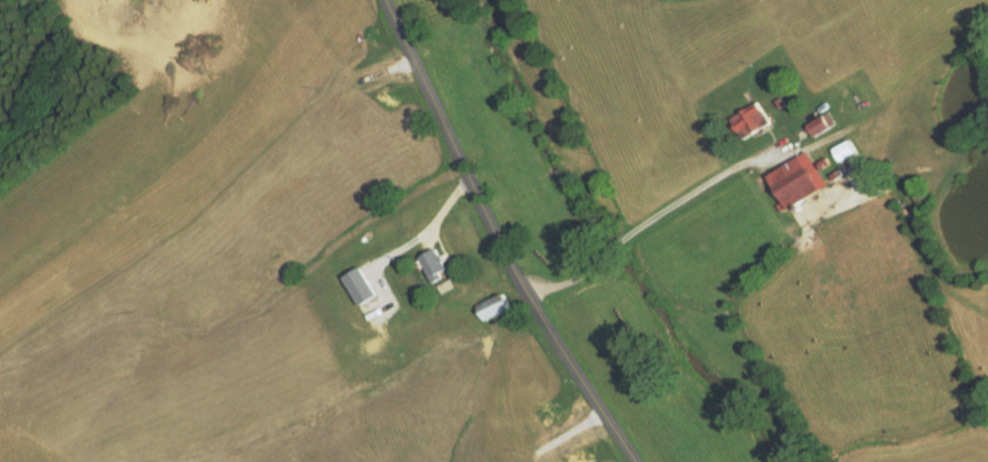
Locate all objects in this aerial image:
building: (777, 102)
building: (747, 119)
building: (818, 123)
building: (842, 149)
building: (821, 162)
building: (833, 173)
building: (931, 177)
building: (793, 180)
road: (689, 192)
building: (914, 192)
road: (499, 237)
road: (431, 244)
road: (410, 245)
road: (611, 246)
building: (440, 265)
road: (571, 278)
building: (363, 287)
building: (498, 307)

